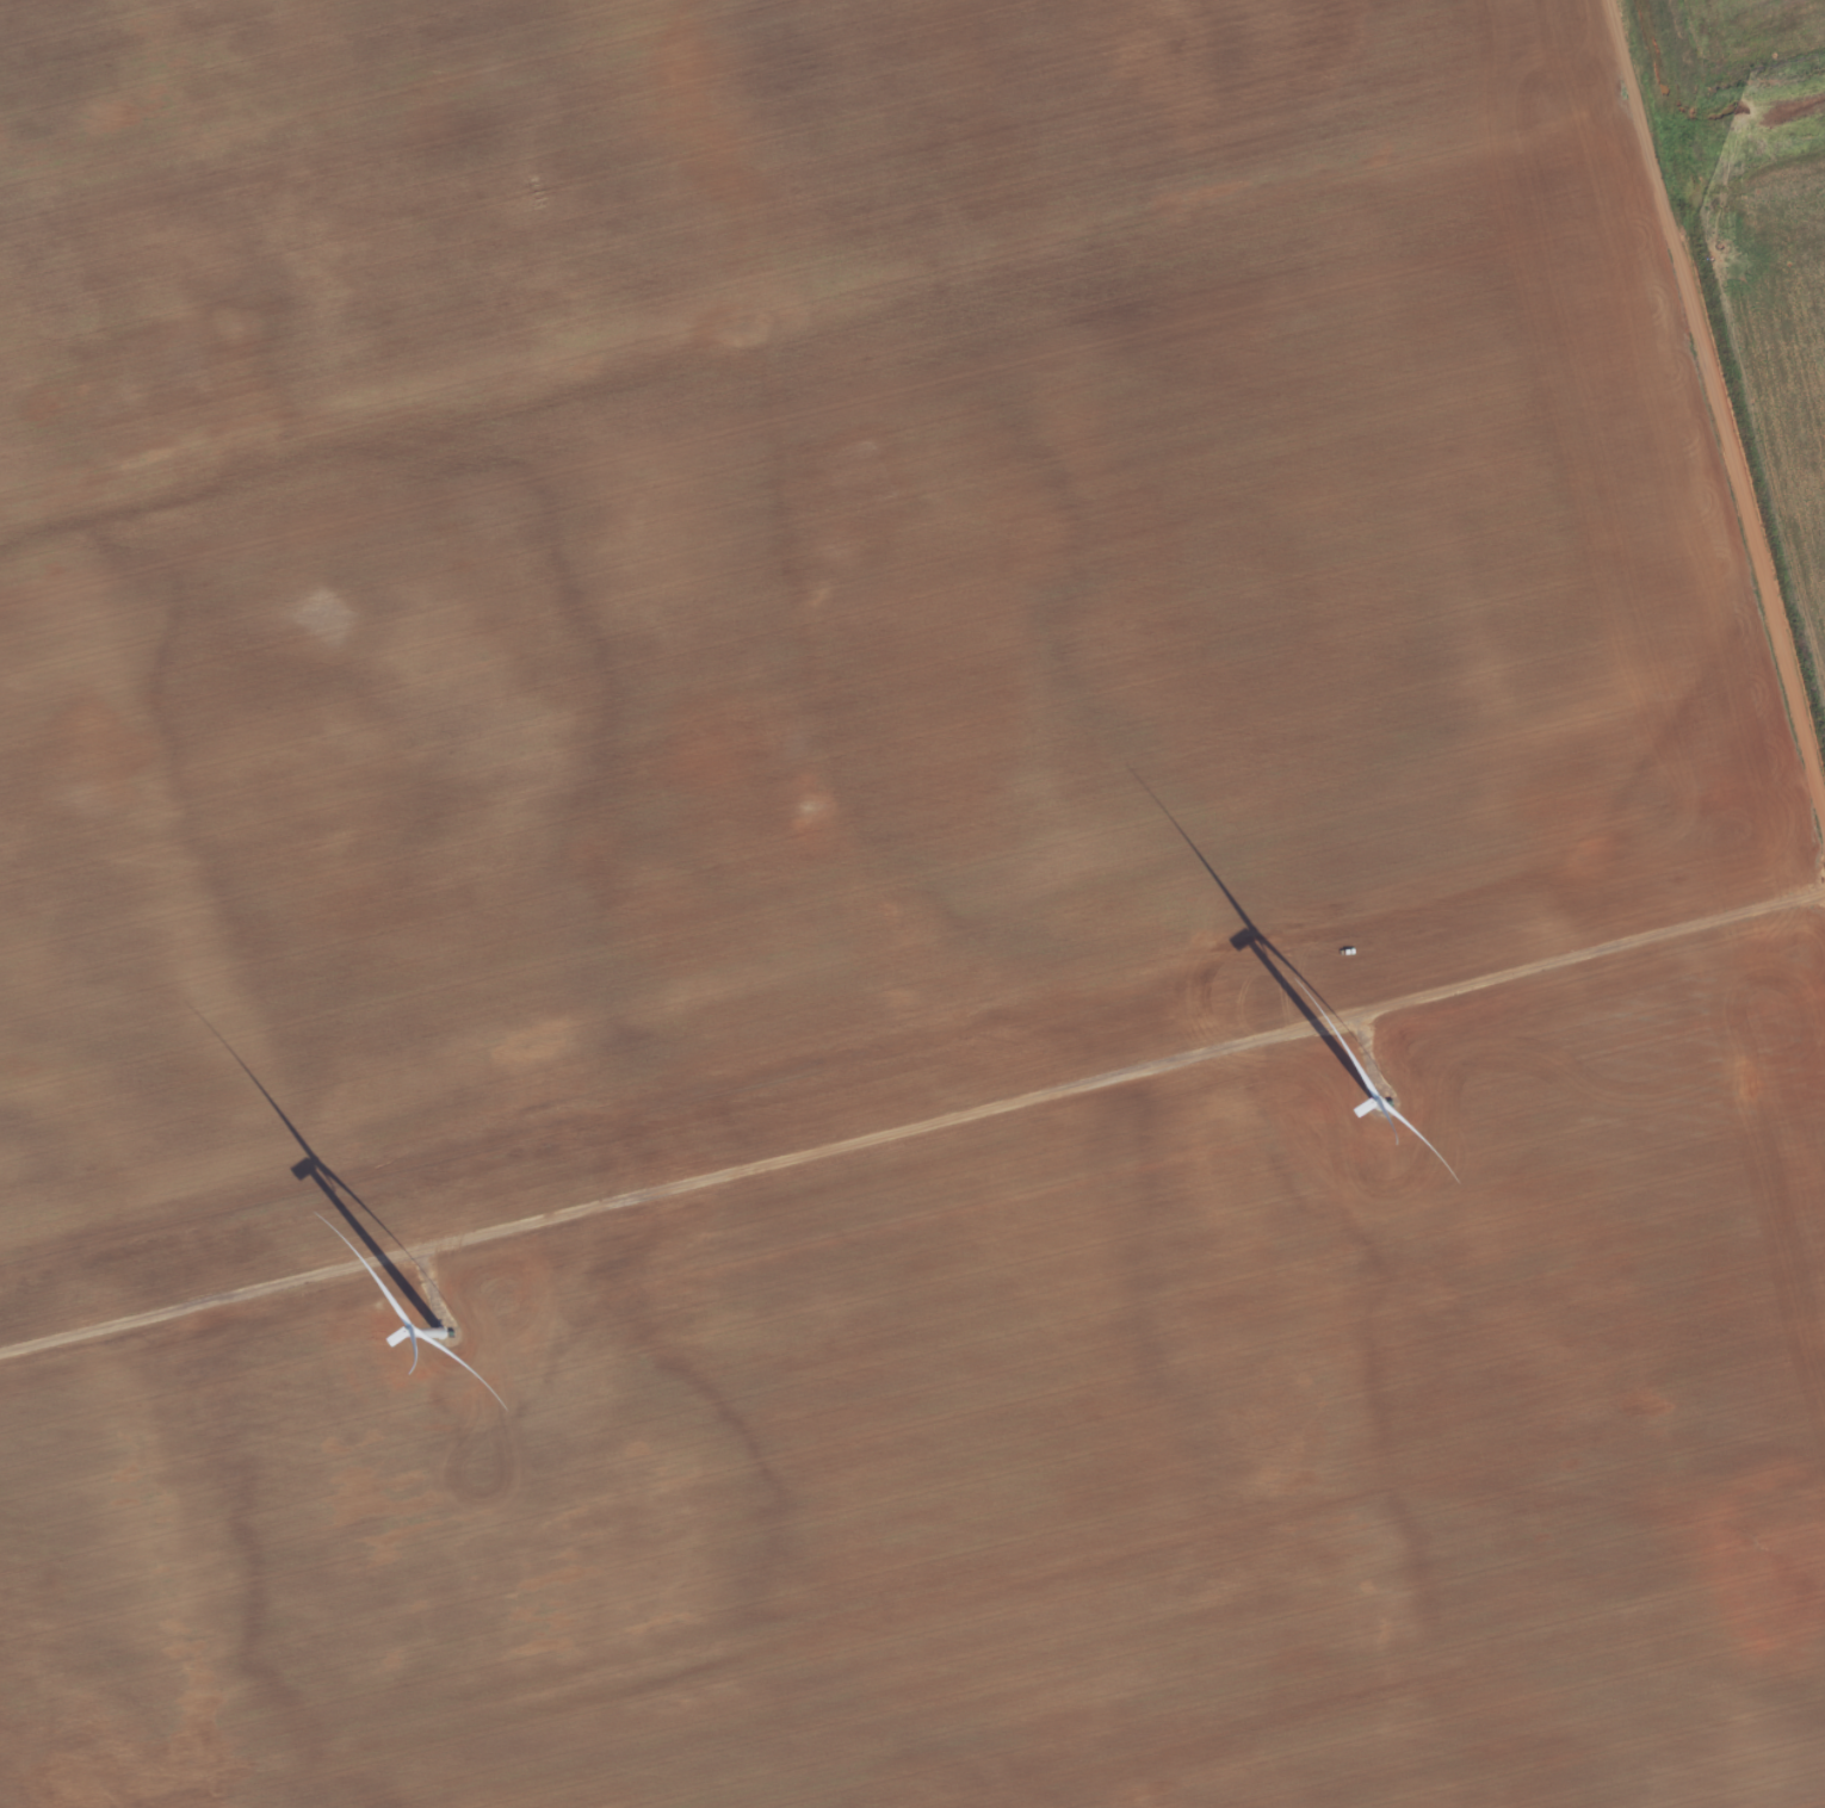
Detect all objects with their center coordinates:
road: (1722, 385)
wind turbine: (1363, 1094)
wind turbine: (437, 1336)

